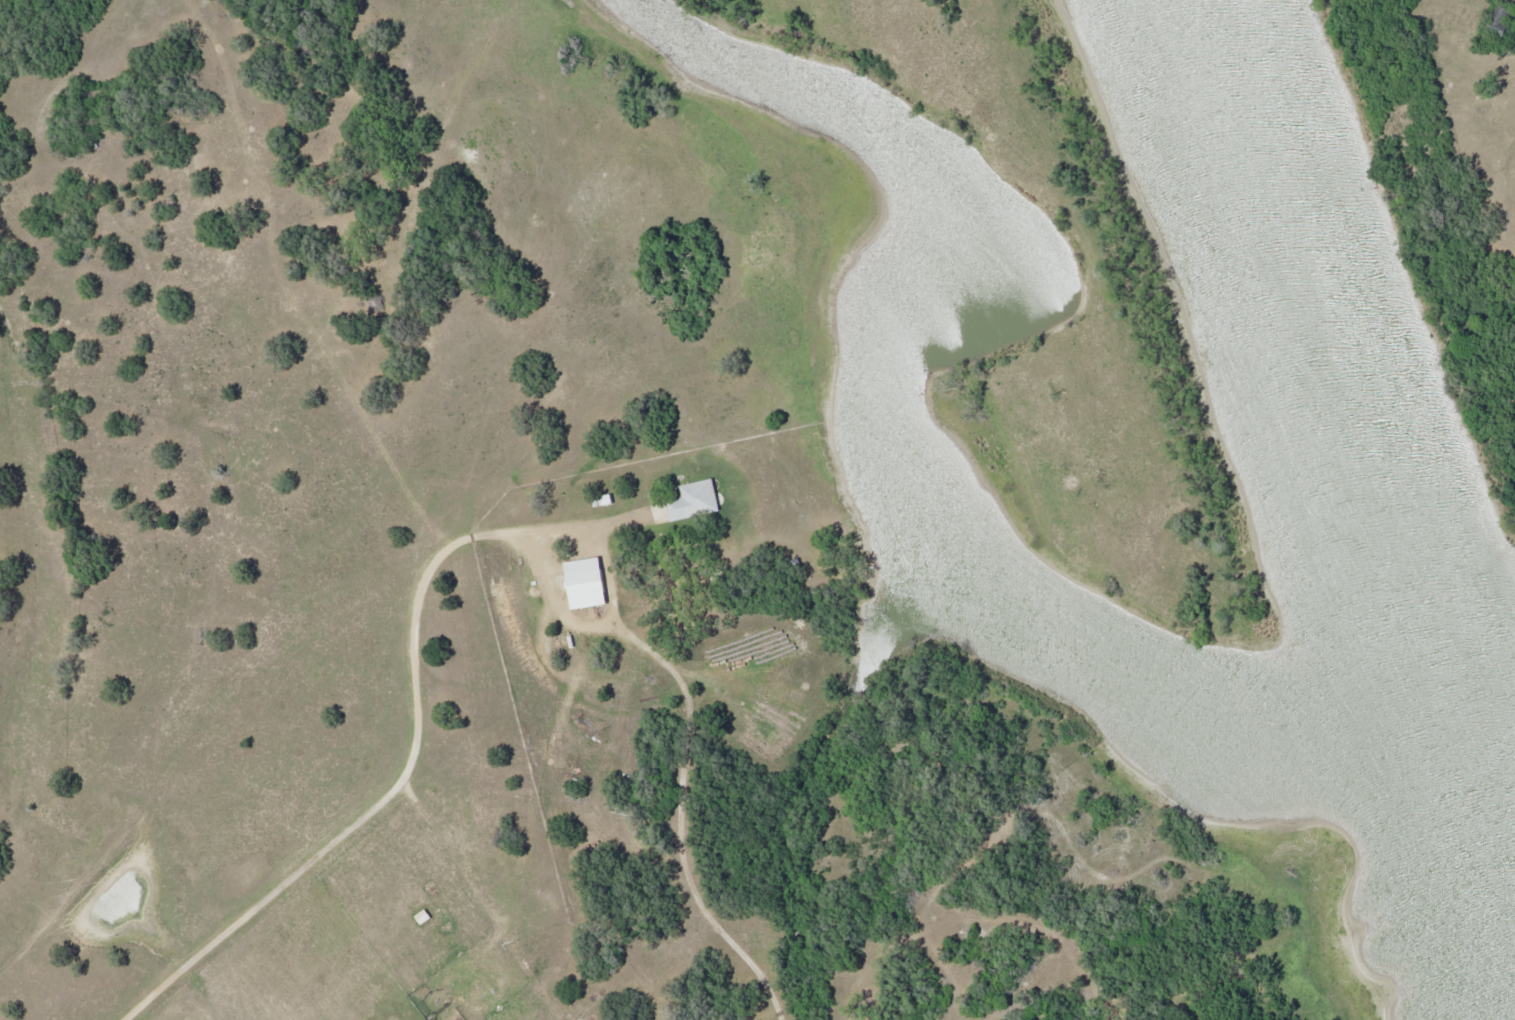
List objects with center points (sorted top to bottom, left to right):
building: (1504, 16)
river: (1347, 394)
building: (698, 501)
building: (589, 582)
road: (383, 804)

